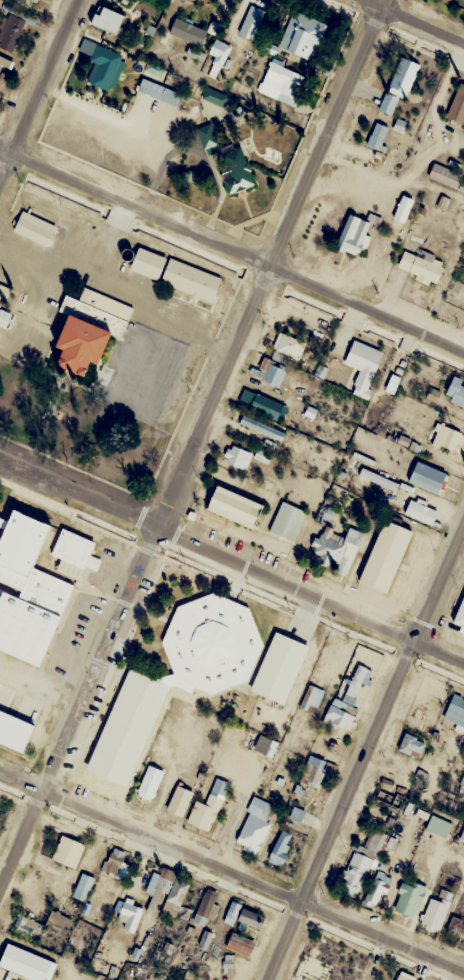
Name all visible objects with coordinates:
building: (25, 0)
building: (447, 0)
building: (108, 19)
building: (251, 21)
road: (415, 21)
building: (302, 34)
building: (10, 37)
building: (219, 52)
building: (100, 62)
building: (403, 77)
building: (281, 82)
road: (39, 88)
building: (159, 91)
building: (214, 96)
building: (457, 106)
building: (378, 136)
building: (207, 139)
road: (6, 145)
building: (235, 167)
building: (444, 175)
building: (401, 207)
building: (35, 228)
building: (353, 235)
road: (110, 236)
road: (239, 249)
building: (148, 263)
building: (419, 266)
building: (190, 280)
road: (121, 284)
building: (4, 292)
building: (4, 318)
building: (90, 327)
building: (288, 345)
building: (364, 366)
building: (270, 372)
building: (456, 392)
building: (260, 403)
building: (310, 412)
building: (261, 427)
building: (447, 438)
road: (193, 447)
building: (236, 456)
building: (427, 477)
building: (235, 507)
building: (323, 515)
building: (287, 521)
building: (385, 556)
road: (233, 559)
building: (23, 594)
building: (462, 604)
building: (212, 644)
building: (350, 700)
building: (455, 713)
building: (127, 727)
building: (9, 734)
building: (254, 741)
building: (409, 743)
road: (365, 752)
building: (152, 777)
building: (179, 800)
building: (208, 806)
building: (302, 816)
building: (254, 825)
building: (437, 826)
building: (463, 834)
building: (372, 842)
building: (280, 848)
building: (67, 851)
building: (114, 860)
road: (231, 874)
building: (351, 879)
building: (82, 887)
building: (377, 887)
building: (170, 895)
building: (408, 898)
building: (209, 904)
building: (232, 912)
building: (435, 912)
building: (129, 915)
building: (251, 918)
building: (55, 921)
building: (27, 926)
building: (456, 927)
building: (205, 938)
building: (22, 963)
building: (405, 976)

